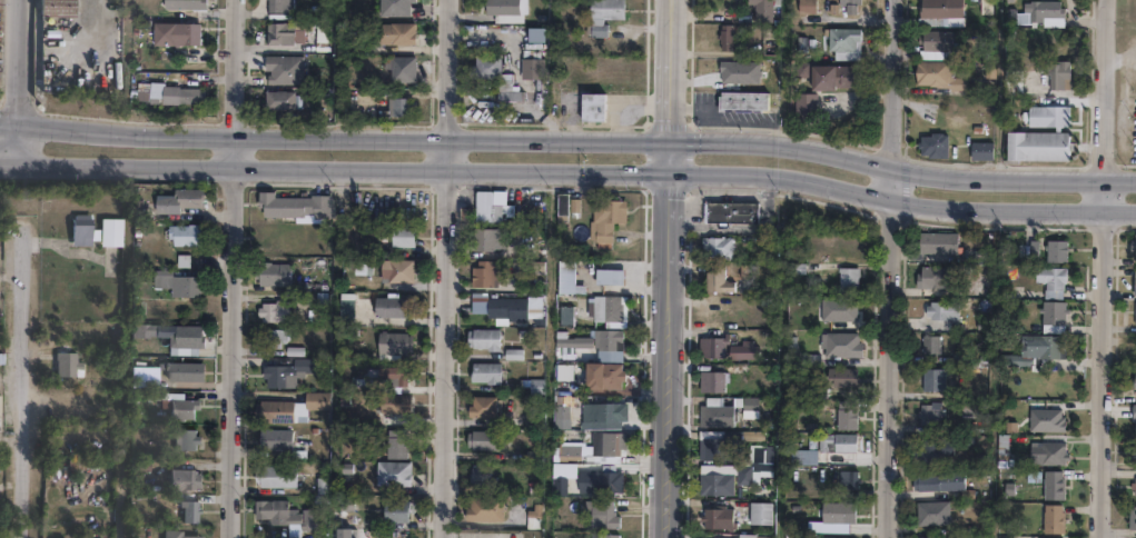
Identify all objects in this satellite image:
building: (278, 4)
building: (55, 7)
building: (394, 7)
building: (849, 7)
building: (187, 8)
building: (807, 8)
building: (506, 10)
building: (937, 10)
building: (761, 11)
building: (1047, 13)
building: (604, 14)
building: (285, 30)
building: (395, 31)
building: (177, 33)
building: (539, 33)
building: (724, 39)
building: (541, 43)
building: (938, 44)
building: (843, 46)
road: (19, 60)
road: (236, 66)
building: (285, 68)
building: (402, 68)
road: (450, 68)
building: (488, 69)
building: (531, 69)
road: (672, 69)
building: (1054, 76)
building: (938, 78)
building: (832, 79)
road: (895, 82)
road: (1109, 88)
building: (142, 91)
building: (181, 93)
building: (513, 98)
building: (279, 99)
building: (741, 103)
building: (398, 106)
building: (594, 109)
building: (804, 110)
building: (1048, 114)
road: (569, 137)
road: (18, 141)
building: (1038, 145)
building: (931, 148)
building: (980, 153)
road: (9, 163)
road: (579, 172)
building: (177, 200)
building: (565, 203)
building: (300, 207)
building: (488, 208)
building: (730, 210)
building: (606, 216)
building: (82, 232)
building: (111, 235)
building: (192, 237)
building: (407, 238)
building: (484, 238)
building: (934, 240)
building: (1133, 242)
building: (711, 243)
building: (1053, 248)
building: (367, 269)
building: (401, 272)
building: (484, 272)
building: (937, 273)
building: (607, 275)
building: (278, 276)
building: (566, 276)
building: (711, 278)
building: (1134, 278)
building: (842, 279)
building: (1047, 279)
building: (185, 286)
building: (347, 303)
building: (506, 307)
building: (941, 307)
building: (397, 309)
building: (604, 309)
building: (1134, 310)
building: (278, 312)
building: (1049, 313)
building: (564, 315)
road: (233, 335)
road: (447, 337)
building: (483, 338)
road: (669, 338)
building: (189, 339)
building: (280, 339)
building: (605, 339)
building: (926, 341)
building: (572, 342)
building: (837, 342)
building: (710, 343)
building: (398, 346)
building: (1031, 349)
building: (1133, 350)
road: (892, 351)
road: (1106, 357)
building: (69, 365)
building: (485, 371)
building: (563, 371)
building: (605, 373)
building: (842, 375)
building: (189, 376)
building: (293, 376)
building: (930, 378)
building: (1133, 378)
building: (707, 380)
road: (24, 382)
building: (533, 383)
building: (393, 390)
building: (322, 403)
building: (481, 405)
building: (965, 406)
building: (0, 409)
building: (1133, 409)
building: (184, 410)
building: (713, 410)
building: (563, 411)
building: (926, 411)
building: (842, 412)
building: (279, 414)
building: (604, 414)
building: (1044, 419)
building: (482, 438)
building: (830, 440)
building: (280, 441)
building: (189, 444)
building: (711, 445)
building: (928, 446)
building: (402, 447)
building: (595, 447)
building: (1044, 450)
building: (1134, 450)
building: (752, 452)
building: (804, 456)
building: (480, 472)
building: (398, 476)
building: (844, 477)
building: (604, 478)
building: (281, 479)
building: (925, 481)
building: (708, 482)
building: (1049, 482)
building: (186, 485)
building: (1132, 485)
building: (329, 489)
building: (483, 507)
building: (834, 510)
building: (928, 510)
building: (601, 512)
building: (755, 512)
building: (401, 515)
building: (192, 516)
building: (1130, 516)
building: (712, 517)
building: (1049, 517)
building: (295, 518)
building: (347, 535)
building: (609, 535)
building: (745, 535)
building: (175, 536)
building: (937, 536)
building: (836, 537)
building: (1001, 537)
building: (1047, 537)

